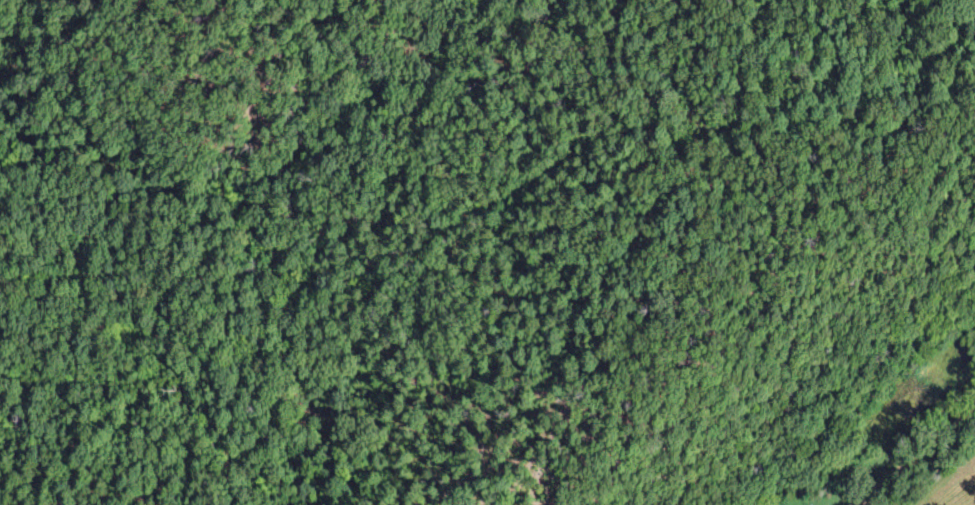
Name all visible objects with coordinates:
road: (913, 445)

